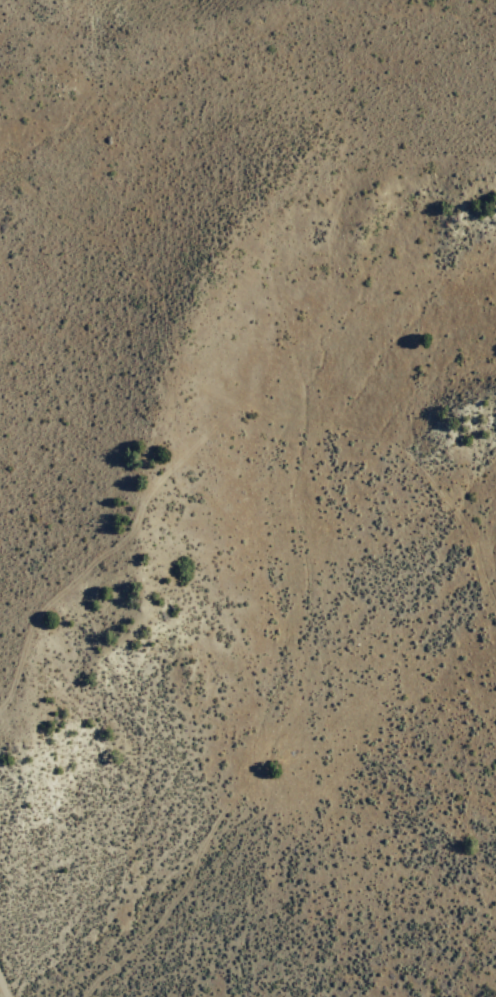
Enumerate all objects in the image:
road: (3, 988)

